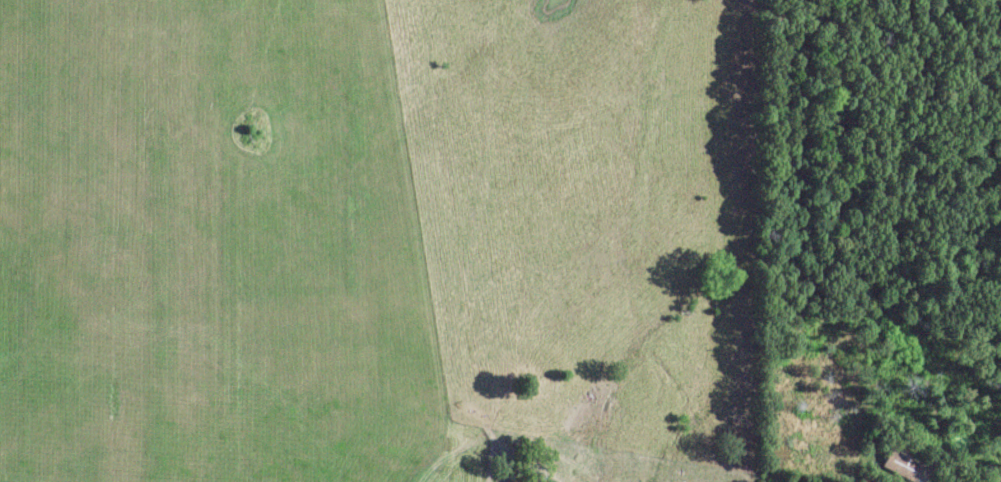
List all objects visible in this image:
building: (902, 466)

